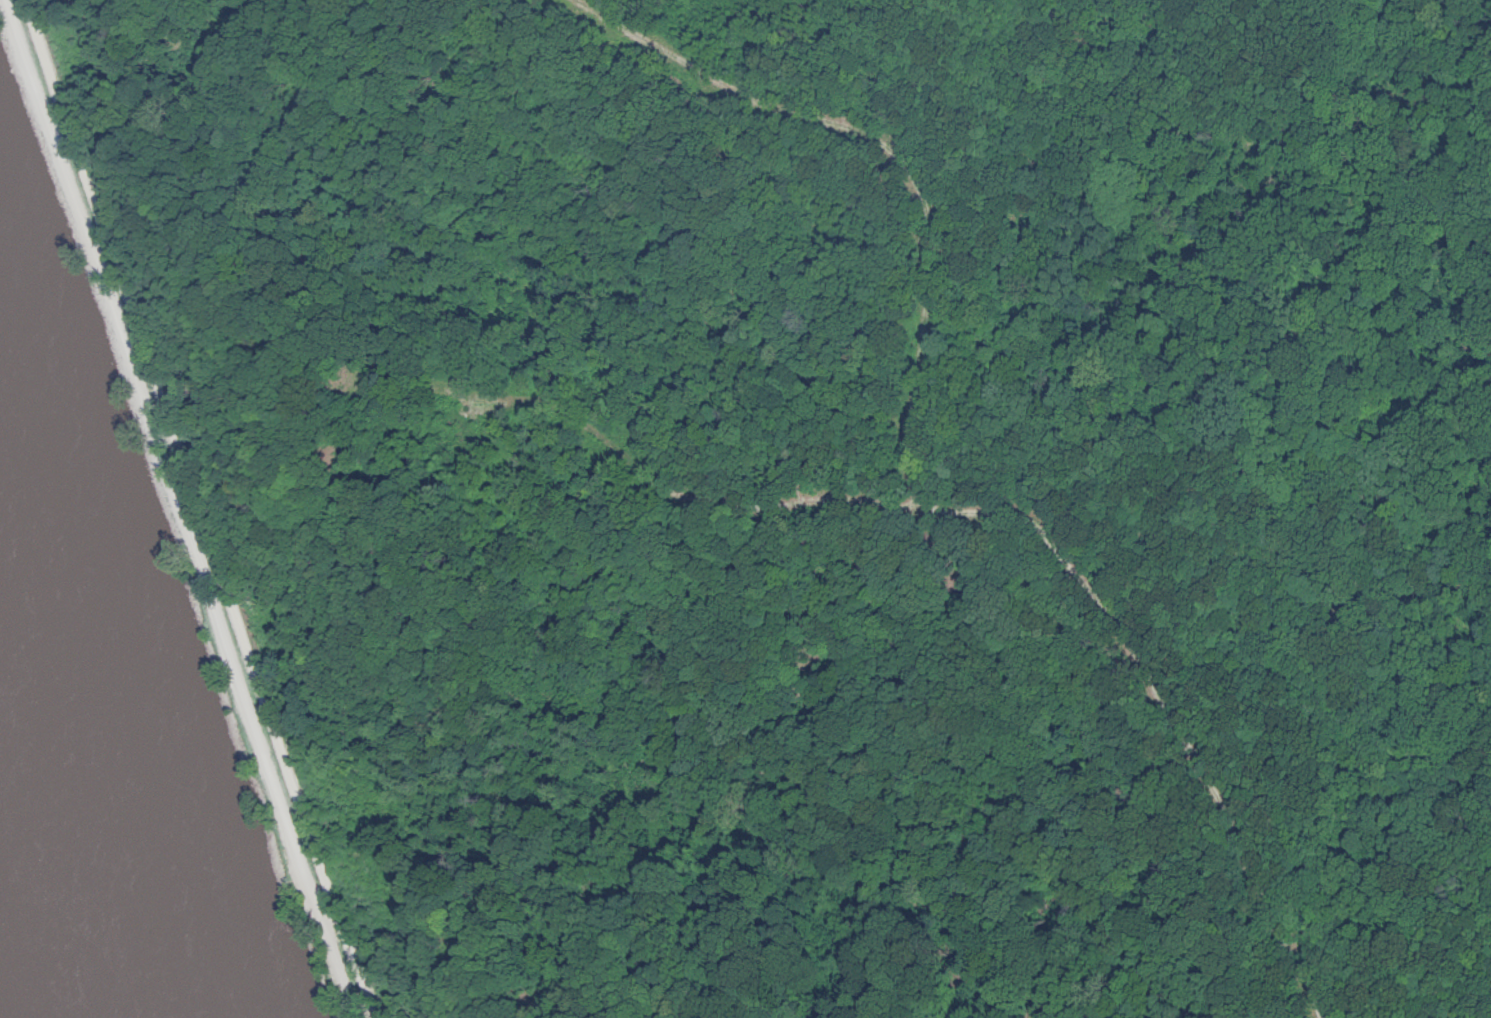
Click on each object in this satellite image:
road: (200, 508)
road: (178, 513)
river: (5, 999)

